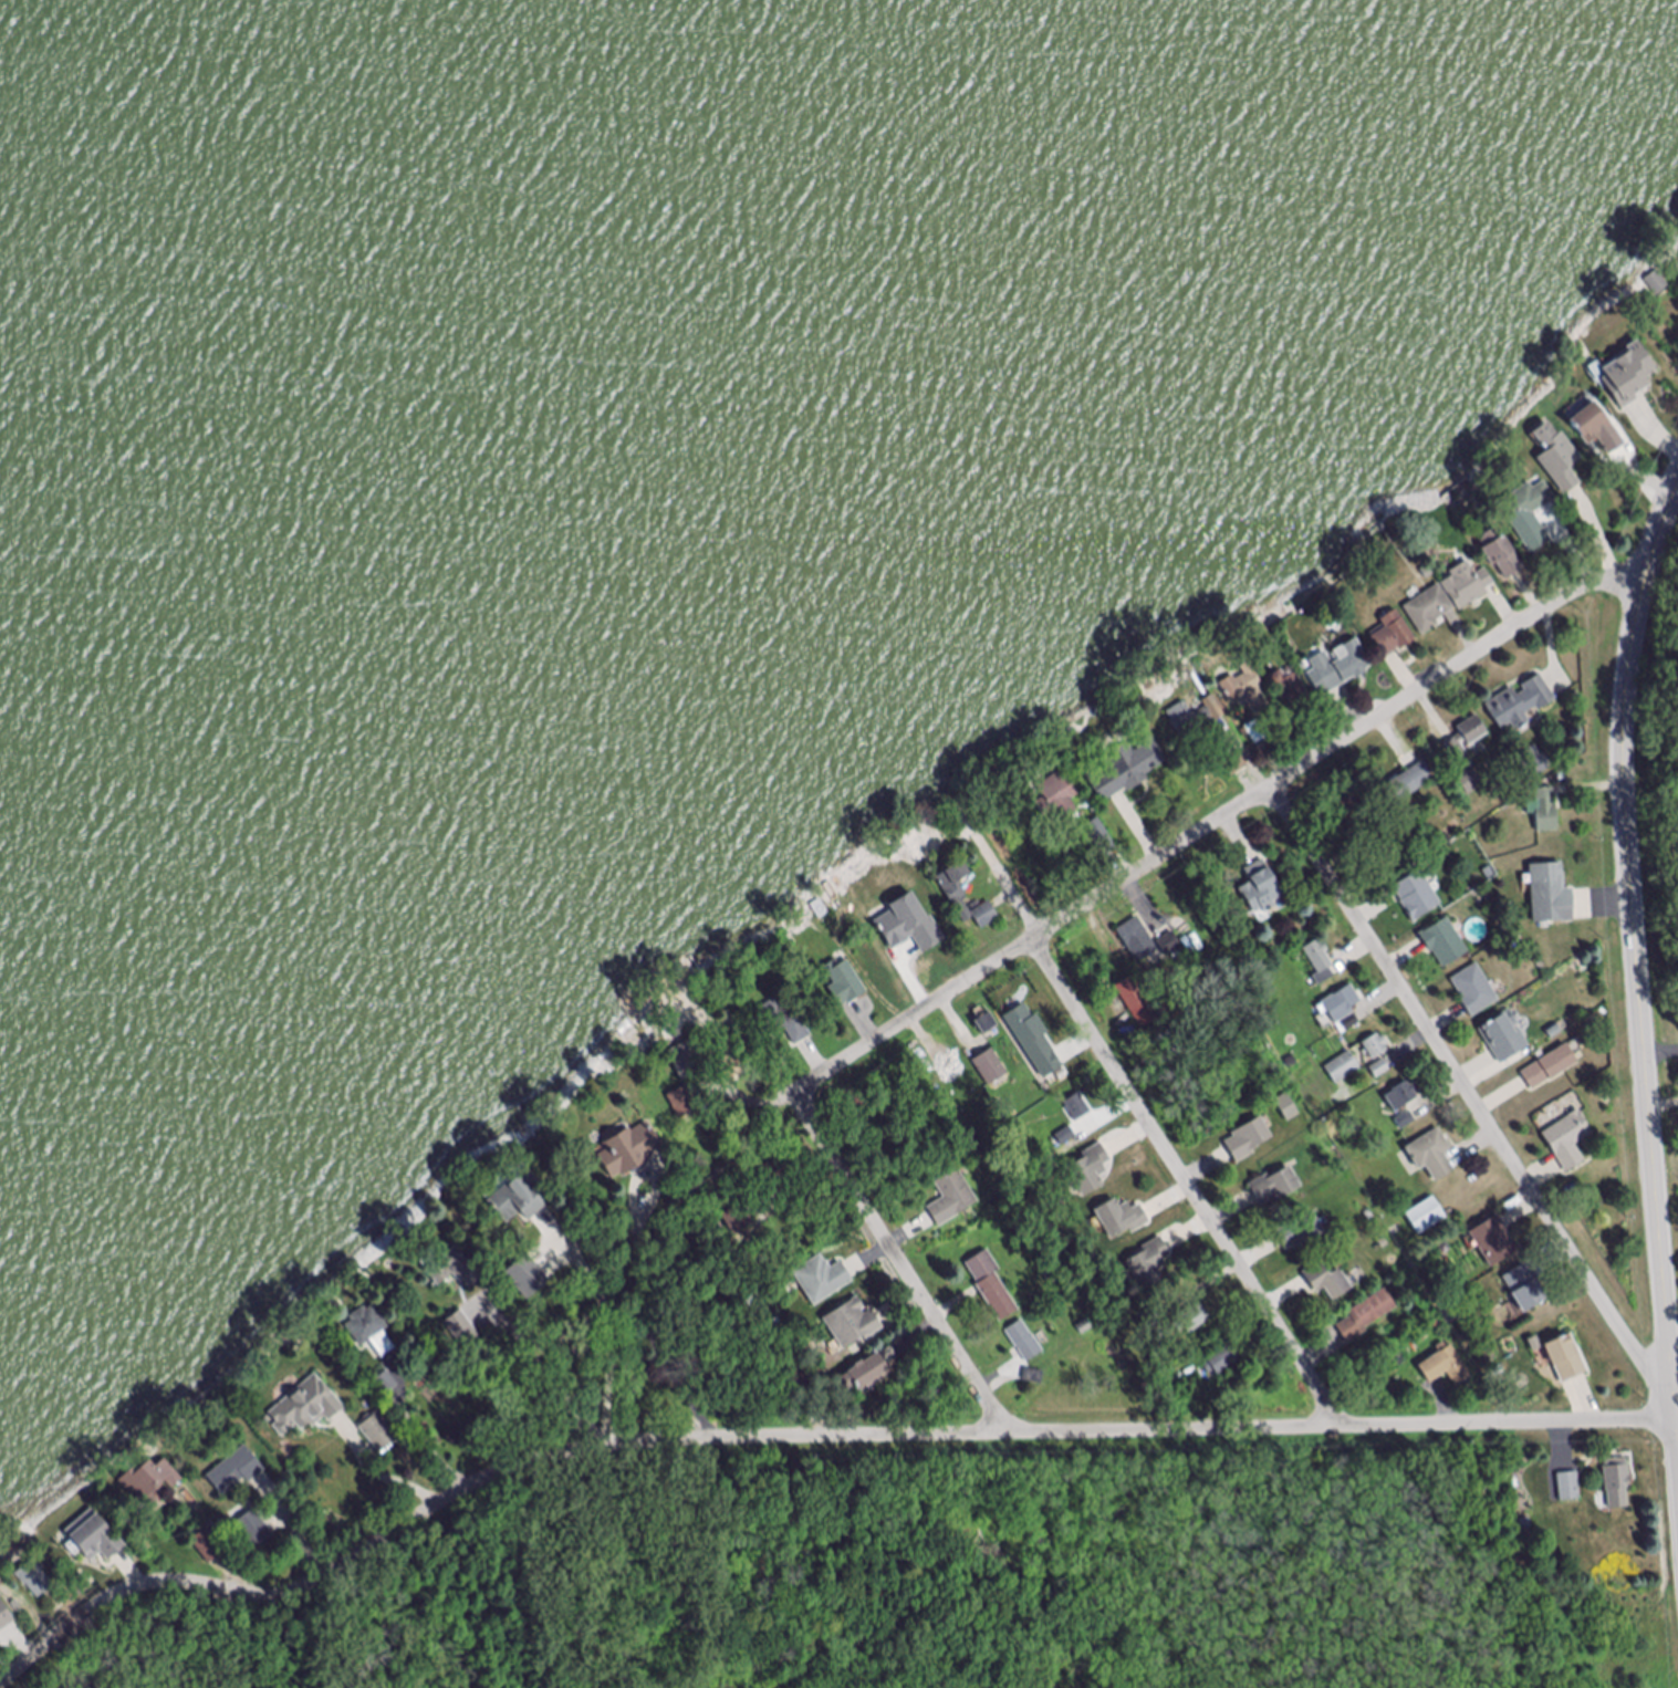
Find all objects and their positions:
building: (1629, 379)
building: (1593, 427)
building: (1557, 462)
building: (1525, 506)
building: (1499, 555)
building: (1467, 586)
building: (1432, 615)
building: (1393, 638)
building: (1337, 673)
building: (1292, 694)
building: (1246, 695)
building: (1521, 705)
building: (1188, 722)
building: (1302, 727)
building: (1254, 734)
building: (1467, 738)
building: (1533, 765)
building: (1234, 769)
building: (1124, 771)
building: (1470, 782)
building: (1406, 784)
building: (1059, 798)
building: (1545, 811)
building: (1351, 814)
road: (1226, 816)
building: (1102, 840)
building: (1490, 874)
building: (1260, 887)
building: (957, 889)
building: (1551, 895)
building: (1417, 897)
building: (1219, 902)
building: (821, 911)
building: (915, 914)
building: (986, 917)
building: (1138, 941)
building: (1445, 944)
building: (1170, 945)
building: (882, 951)
building: (1320, 962)
road: (1639, 970)
building: (845, 986)
building: (1474, 990)
building: (1137, 1002)
building: (1341, 1004)
building: (1263, 1021)
building: (988, 1024)
building: (1349, 1024)
building: (783, 1025)
building: (1553, 1032)
building: (1503, 1036)
building: (1327, 1048)
building: (1376, 1048)
building: (1036, 1050)
building: (689, 1060)
building: (1549, 1066)
building: (991, 1067)
building: (1344, 1069)
building: (1380, 1070)
building: (1313, 1075)
building: (1054, 1082)
road: (1470, 1090)
building: (685, 1103)
building: (1404, 1104)
building: (1288, 1107)
building: (1078, 1108)
building: (1066, 1137)
building: (1249, 1138)
building: (1568, 1140)
road: (1170, 1148)
building: (629, 1150)
building: (1432, 1155)
building: (1344, 1168)
building: (1091, 1170)
building: (1276, 1187)
building: (952, 1196)
building: (519, 1200)
building: (1425, 1217)
building: (1122, 1218)
building: (739, 1220)
building: (596, 1223)
building: (1302, 1232)
building: (1398, 1232)
building: (1384, 1241)
building: (1494, 1242)
road: (905, 1263)
building: (1149, 1263)
building: (454, 1270)
building: (527, 1277)
building: (823, 1280)
building: (1328, 1282)
building: (992, 1288)
building: (1526, 1289)
building: (1450, 1315)
building: (1366, 1316)
road: (609, 1323)
road: (652, 1323)
building: (1189, 1323)
building: (853, 1324)
building: (1438, 1324)
building: (772, 1326)
building: (1085, 1326)
building: (462, 1330)
building: (1157, 1330)
building: (373, 1331)
building: (1025, 1342)
building: (1535, 1344)
road: (1674, 1346)
building: (1489, 1356)
building: (1565, 1357)
building: (1221, 1362)
road: (543, 1366)
building: (1445, 1366)
building: (867, 1367)
building: (386, 1384)
building: (308, 1407)
building: (379, 1432)
road: (800, 1437)
road: (424, 1438)
building: (236, 1471)
road: (385, 1477)
building: (1616, 1477)
building: (149, 1482)
building: (1568, 1488)
building: (1525, 1524)
building: (254, 1530)
building: (94, 1539)
building: (209, 1546)
building: (62, 1570)
building: (35, 1581)
building: (81, 1586)
building: (4, 1617)

